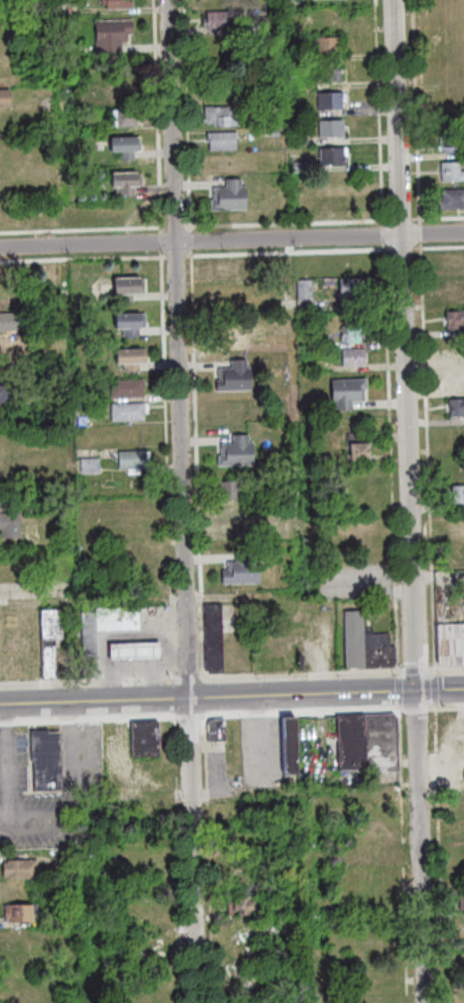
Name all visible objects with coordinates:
building: (120, 4)
building: (223, 23)
building: (271, 25)
building: (115, 36)
building: (331, 46)
park: (441, 54)
building: (227, 64)
building: (331, 73)
building: (218, 90)
building: (125, 93)
building: (6, 100)
building: (333, 101)
road: (420, 112)
road: (382, 113)
road: (161, 116)
road: (190, 116)
building: (126, 119)
building: (224, 119)
building: (334, 129)
building: (277, 135)
building: (303, 141)
building: (225, 142)
building: (453, 143)
building: (128, 147)
building: (335, 156)
building: (304, 167)
building: (453, 172)
building: (128, 184)
building: (232, 199)
building: (455, 201)
road: (439, 216)
road: (403, 220)
road: (342, 222)
road: (240, 226)
road: (167, 228)
road: (179, 228)
road: (422, 234)
road: (385, 235)
road: (231, 239)
road: (193, 241)
road: (164, 243)
road: (439, 248)
road: (403, 249)
road: (290, 253)
road: (178, 257)
road: (119, 258)
building: (227, 268)
building: (130, 287)
building: (355, 287)
building: (306, 290)
building: (456, 320)
building: (9, 321)
building: (132, 323)
building: (354, 333)
building: (231, 338)
building: (319, 339)
building: (7, 346)
building: (354, 357)
building: (133, 358)
building: (236, 377)
building: (457, 380)
building: (128, 388)
building: (348, 392)
building: (10, 394)
building: (458, 407)
building: (130, 411)
building: (359, 445)
building: (238, 452)
road: (429, 458)
road: (391, 459)
building: (134, 460)
building: (91, 465)
road: (198, 467)
road: (169, 468)
building: (231, 491)
building: (459, 495)
road: (185, 501)
road: (413, 501)
building: (232, 523)
building: (10, 525)
building: (243, 567)
parking lot: (357, 582)
road: (368, 593)
building: (119, 617)
road: (113, 636)
building: (51, 639)
building: (215, 639)
building: (356, 640)
building: (451, 644)
building: (90, 645)
building: (136, 650)
building: (379, 651)
road: (146, 662)
road: (447, 669)
road: (417, 671)
road: (302, 676)
road: (190, 679)
road: (157, 680)
road: (89, 682)
road: (436, 688)
road: (176, 690)
road: (401, 690)
traffic signals: (419, 690)
road: (231, 696)
road: (447, 708)
road: (418, 709)
road: (304, 714)
road: (191, 717)
road: (90, 721)
building: (218, 730)
building: (147, 739)
road: (208, 739)
building: (352, 742)
building: (382, 742)
building: (122, 743)
building: (291, 746)
road: (401, 746)
road: (216, 747)
road: (178, 756)
building: (47, 760)
parking lot: (83, 762)
parking lot: (220, 776)
road: (442, 786)
road: (219, 787)
road: (411, 788)
road: (185, 795)
road: (5, 824)
road: (38, 824)
road: (441, 853)
building: (71, 862)
building: (22, 868)
building: (462, 900)
building: (240, 905)
building: (20, 913)
building: (71, 917)
road: (418, 980)
road: (409, 992)

